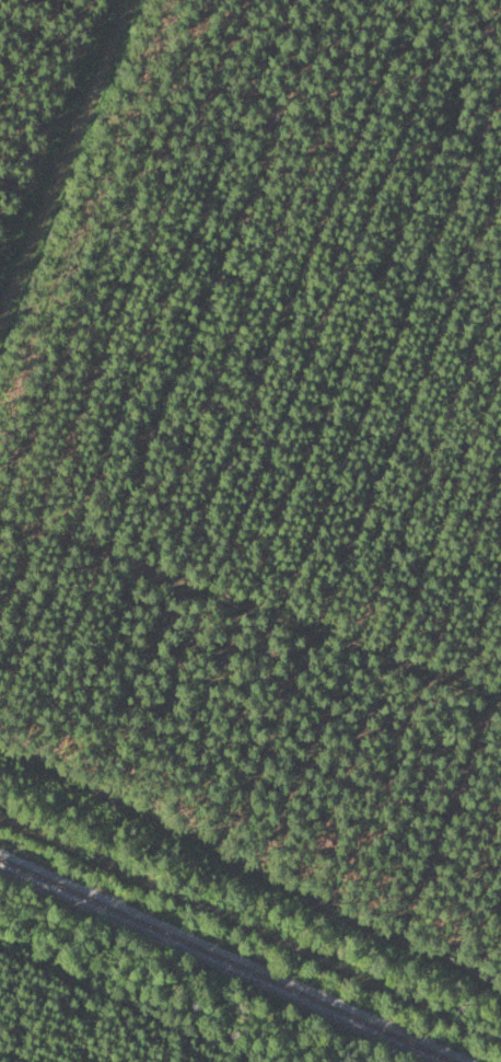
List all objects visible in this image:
railway: (228, 958)

